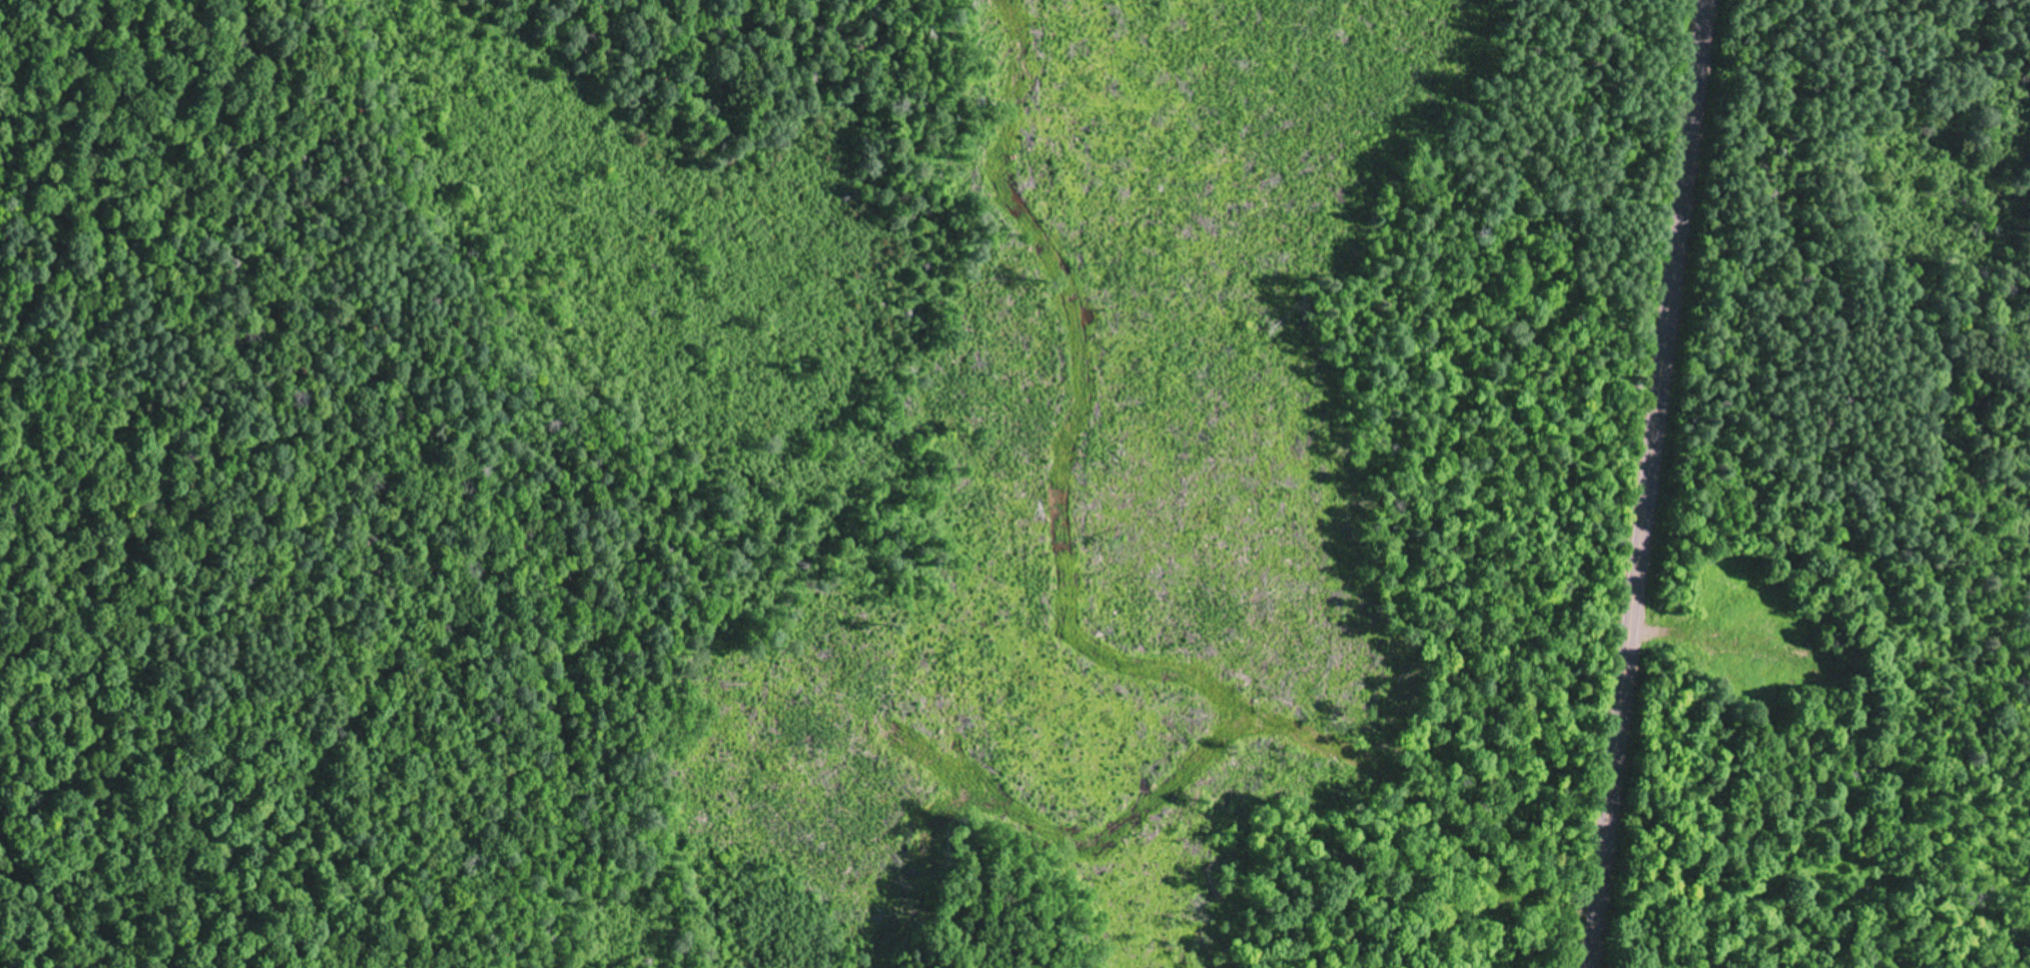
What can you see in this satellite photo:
road: (1643, 483)

